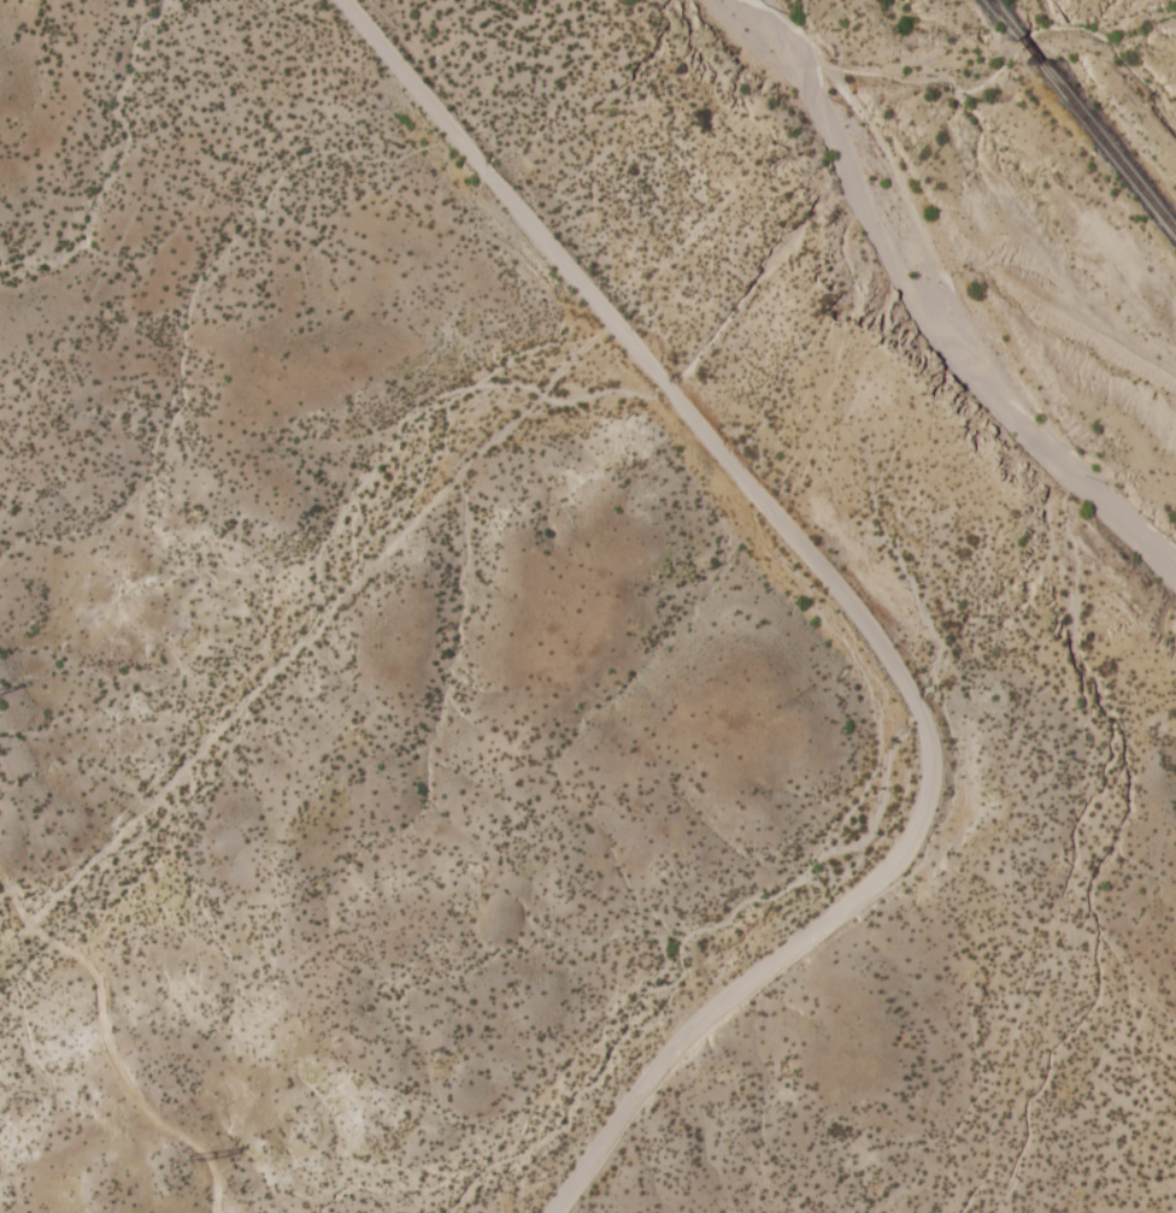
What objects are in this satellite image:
railway: (1004, 17)
railway: (1029, 48)
railway: (1107, 147)
road: (846, 599)
power tower: (187, 1153)

